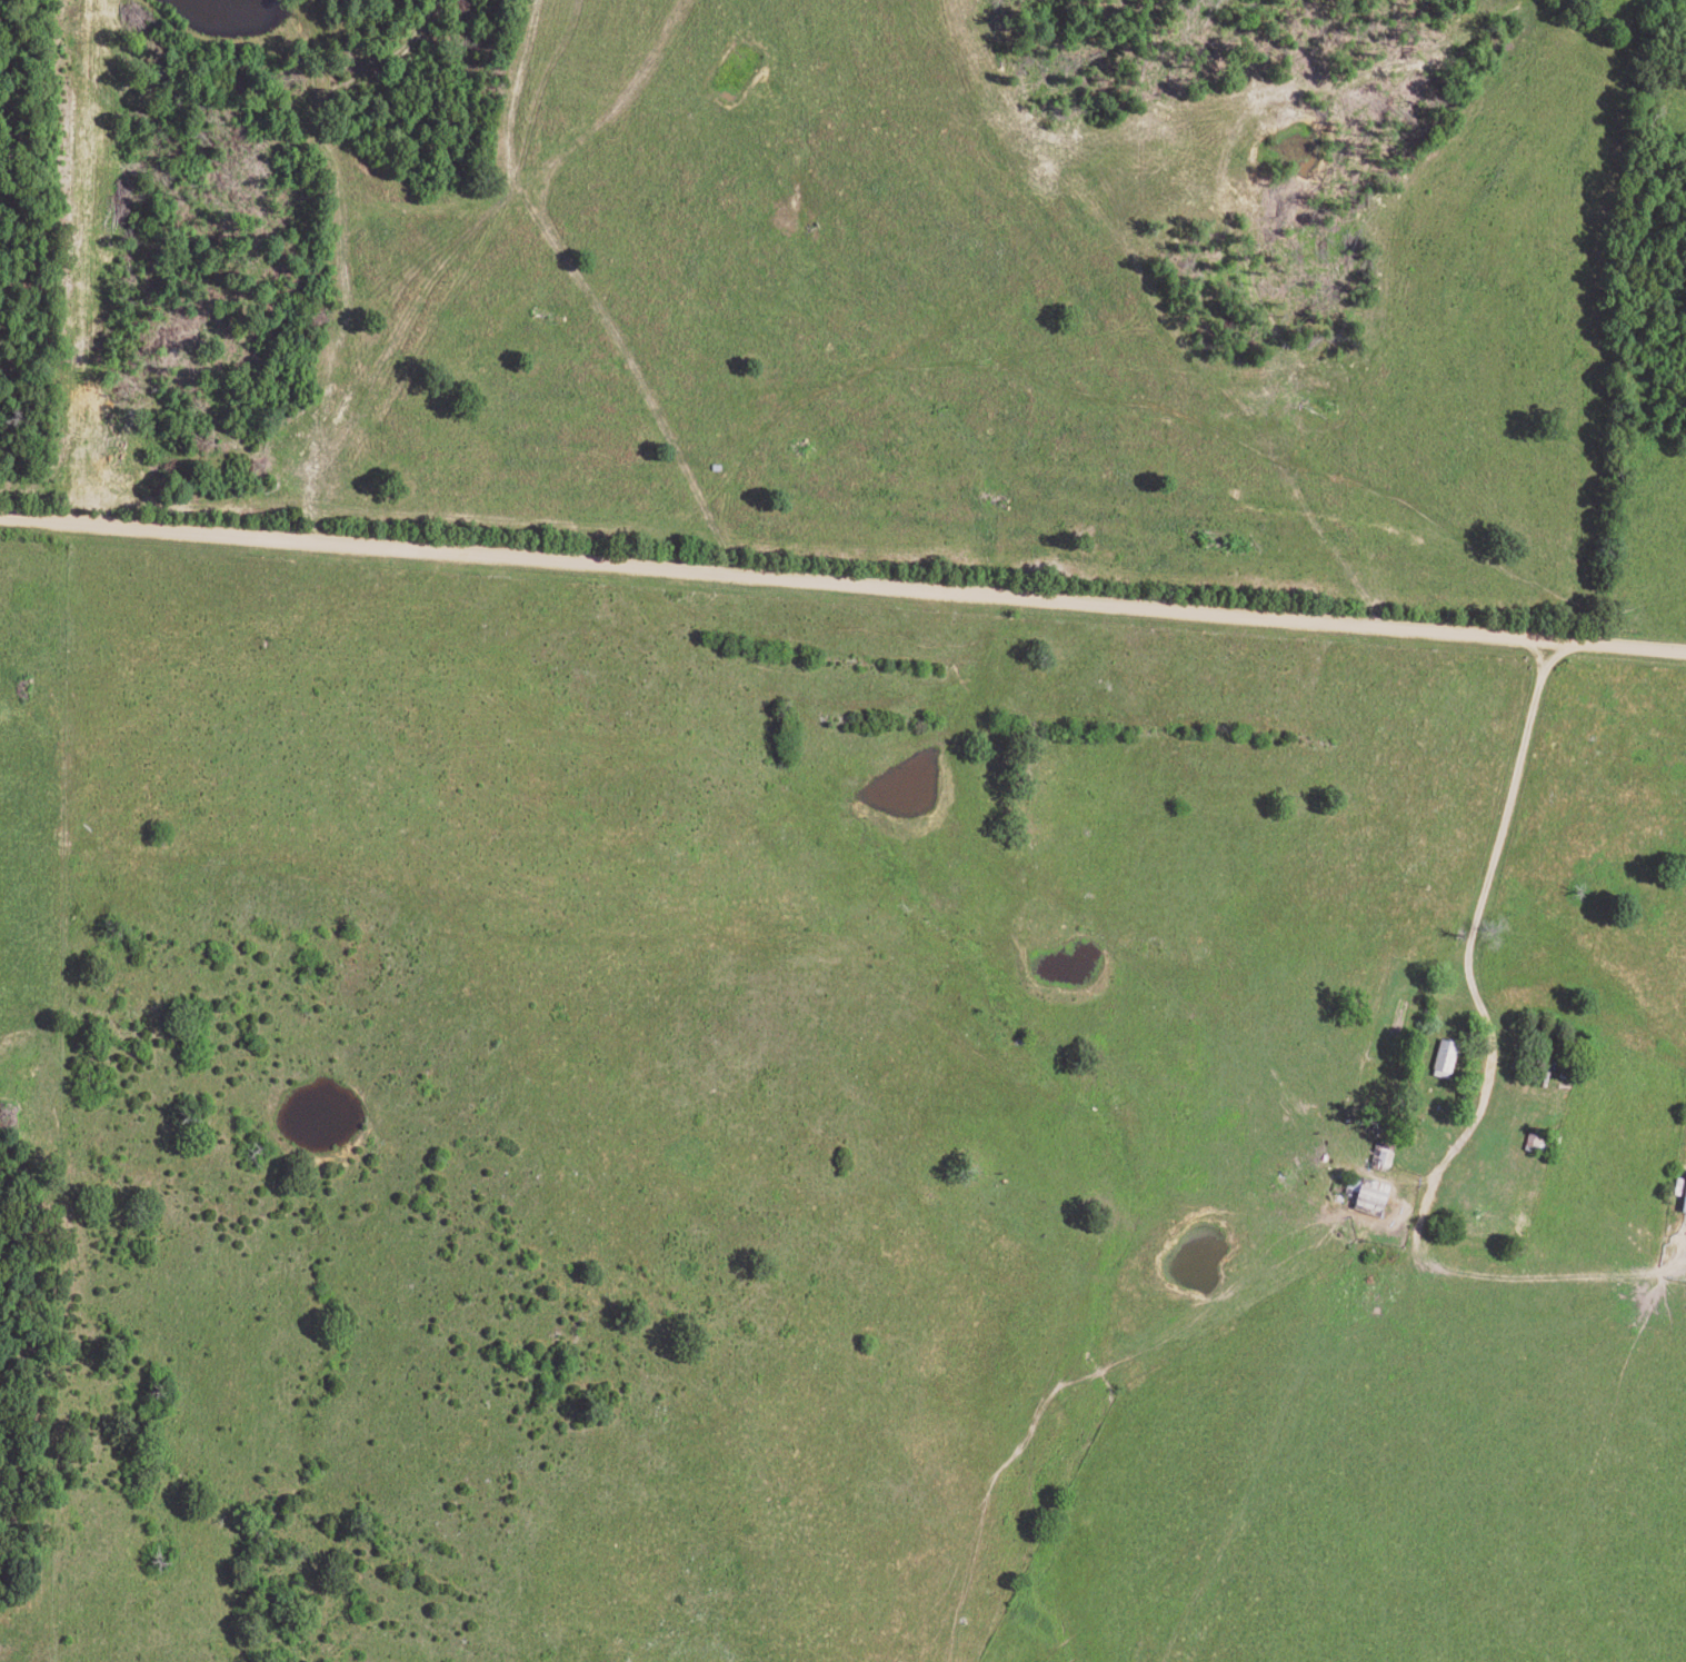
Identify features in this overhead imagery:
road: (842, 585)
road: (1522, 863)
building: (1441, 1056)
building: (1683, 1194)
building: (1367, 1197)
road: (409, 1644)

